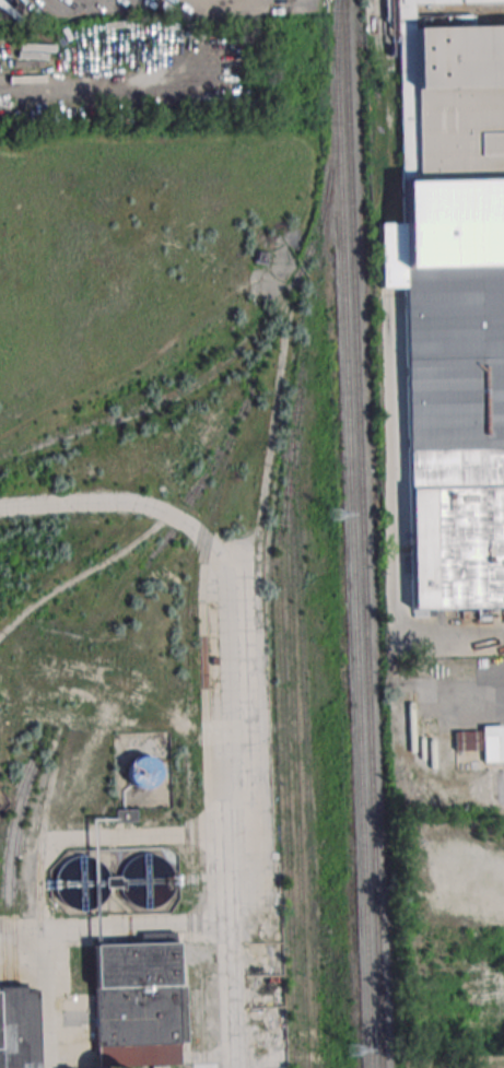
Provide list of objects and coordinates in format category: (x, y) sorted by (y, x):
building: (445, 1)
railway: (307, 303)
building: (448, 338)
railway: (219, 366)
railway: (230, 432)
power tower: (331, 518)
railway: (353, 533)
railway: (362, 533)
railway: (207, 547)
railway: (79, 575)
railway: (190, 609)
railway: (186, 674)
railway: (283, 731)
building: (481, 742)
railway: (304, 746)
building: (143, 771)
railway: (294, 778)
railway: (195, 842)
railway: (186, 845)
railway: (39, 849)
railway: (2, 867)
railway: (14, 869)
building: (139, 1002)
railway: (201, 1012)
railway: (191, 1013)
building: (16, 1028)
power tower: (353, 1051)

